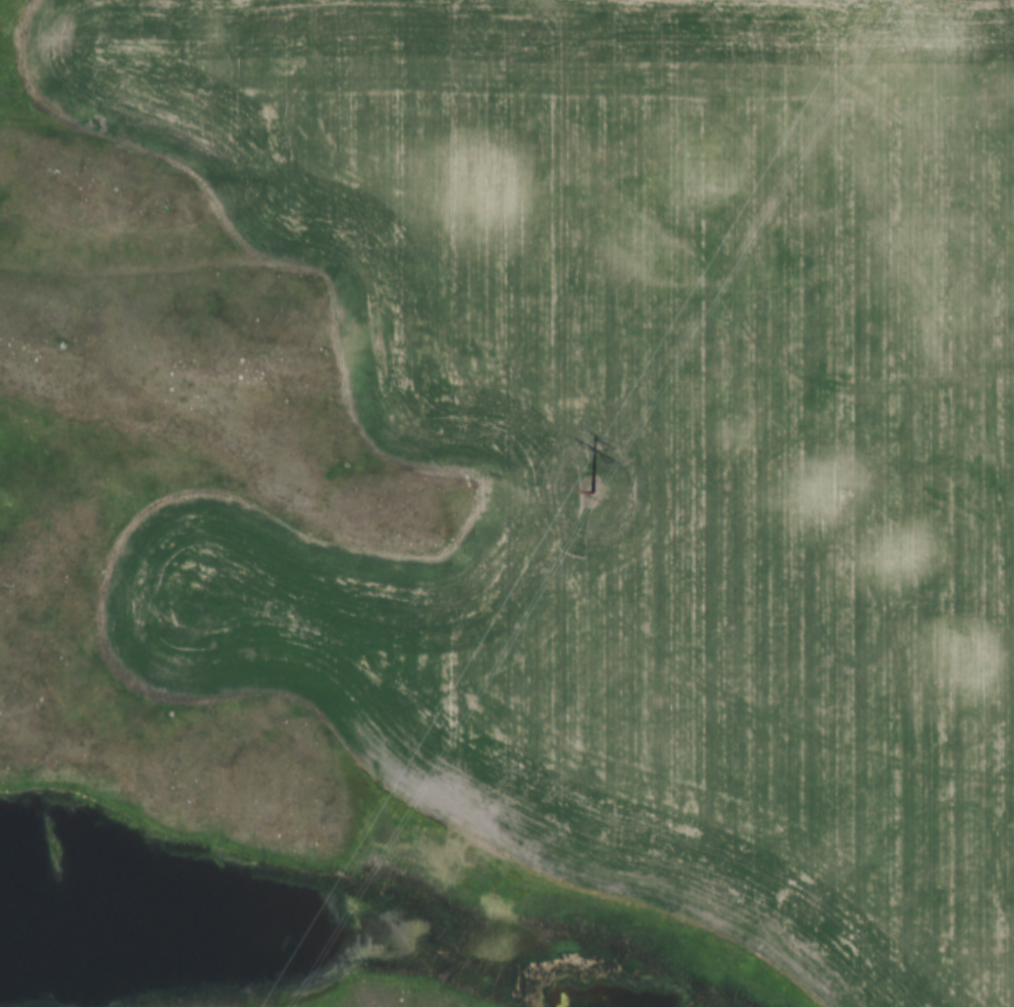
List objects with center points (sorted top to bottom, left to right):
power tower: (583, 476)

